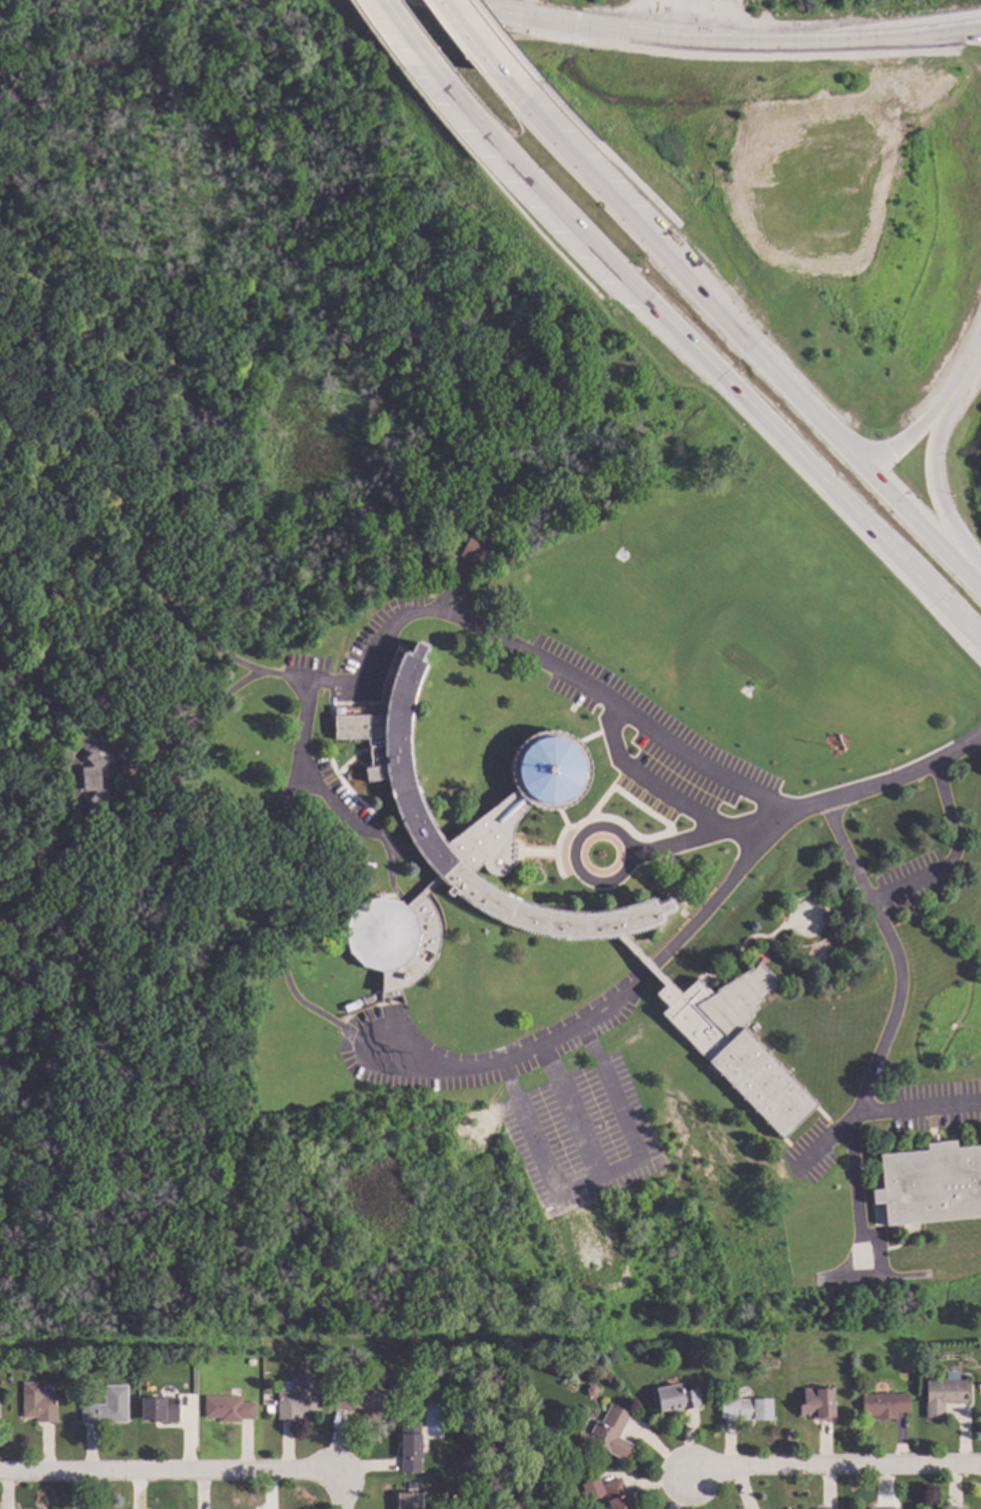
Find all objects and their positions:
road: (501, 37)
road: (403, 39)
road: (474, 42)
road: (697, 44)
road: (380, 45)
road: (602, 150)
road: (588, 165)
road: (526, 184)
road: (503, 195)
road: (969, 360)
road: (822, 421)
road: (911, 433)
road: (802, 468)
road: (934, 480)
road: (15, 489)
road: (37, 509)
building: (477, 551)
road: (161, 601)
road: (622, 713)
road: (203, 714)
building: (99, 778)
road: (646, 782)
road: (946, 814)
road: (600, 827)
road: (708, 837)
building: (469, 850)
road: (848, 853)
road: (910, 884)
road: (256, 888)
road: (707, 906)
road: (882, 1043)
building: (737, 1044)
road: (508, 1059)
parking lot: (531, 1094)
road: (913, 1112)
road: (567, 1113)
road: (599, 1177)
road: (854, 1179)
building: (931, 1184)
building: (416, 1362)
building: (3, 1392)
building: (946, 1396)
building: (362, 1397)
building: (300, 1398)
building: (680, 1399)
building: (40, 1403)
building: (820, 1404)
building: (887, 1405)
building: (110, 1407)
building: (750, 1408)
building: (162, 1409)
building: (231, 1409)
park: (505, 1428)
building: (613, 1432)
building: (413, 1449)
road: (840, 1467)
road: (173, 1476)
building: (595, 1489)
building: (428, 1490)
road: (345, 1493)
building: (620, 1494)
building: (410, 1501)
building: (884, 1508)
building: (948, 1508)

